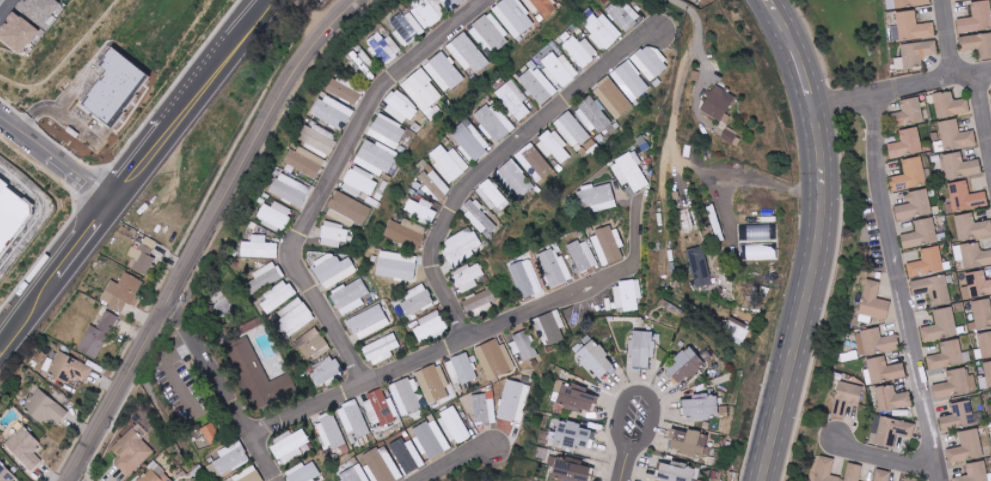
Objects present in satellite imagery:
building: (63, 0)
building: (957, 0)
road: (6, 2)
building: (906, 3)
building: (452, 4)
building: (542, 7)
road: (6, 8)
building: (38, 10)
building: (425, 14)
building: (624, 15)
building: (514, 17)
building: (977, 17)
building: (913, 27)
building: (407, 28)
building: (603, 31)
building: (17, 33)
building: (490, 33)
road: (948, 39)
building: (978, 44)
building: (384, 48)
building: (580, 51)
building: (468, 53)
building: (916, 53)
building: (651, 62)
building: (365, 64)
building: (445, 70)
building: (559, 70)
building: (629, 84)
building: (537, 85)
building: (117, 88)
road: (903, 89)
building: (347, 90)
building: (422, 90)
building: (613, 99)
building: (514, 100)
building: (718, 103)
building: (950, 105)
building: (400, 107)
road: (984, 108)
building: (912, 109)
road: (58, 111)
building: (333, 112)
building: (593, 116)
building: (493, 123)
building: (572, 130)
building: (388, 131)
building: (955, 135)
building: (731, 137)
building: (319, 139)
building: (907, 142)
building: (469, 143)
building: (554, 146)
road: (669, 147)
building: (377, 157)
road: (55, 158)
building: (305, 162)
road: (499, 162)
building: (534, 162)
building: (449, 163)
building: (960, 166)
building: (630, 172)
building: (911, 173)
road: (133, 174)
road: (339, 175)
road: (745, 175)
building: (515, 178)
building: (359, 182)
building: (435, 185)
building: (291, 190)
building: (493, 196)
building: (966, 197)
building: (914, 205)
building: (348, 210)
building: (422, 210)
building: (277, 214)
building: (12, 216)
road: (46, 216)
building: (479, 218)
building: (971, 226)
road: (203, 233)
building: (407, 233)
building: (921, 234)
building: (333, 236)
road: (820, 238)
building: (608, 246)
building: (462, 247)
building: (260, 248)
building: (972, 255)
building: (143, 256)
building: (583, 256)
building: (927, 262)
building: (699, 266)
building: (400, 267)
building: (332, 268)
building: (554, 269)
building: (269, 274)
building: (468, 278)
building: (976, 284)
road: (902, 288)
building: (933, 289)
building: (123, 292)
building: (627, 295)
building: (350, 296)
building: (277, 297)
building: (418, 300)
building: (480, 303)
building: (873, 303)
building: (982, 313)
building: (295, 317)
building: (368, 322)
building: (941, 325)
building: (430, 326)
building: (552, 327)
building: (738, 330)
building: (98, 335)
road: (472, 341)
building: (875, 342)
building: (524, 345)
building: (984, 345)
building: (381, 350)
building: (946, 355)
building: (596, 359)
building: (685, 365)
building: (69, 369)
building: (461, 369)
building: (883, 370)
building: (988, 372)
road: (172, 373)
building: (263, 374)
building: (327, 374)
building: (433, 380)
building: (956, 383)
road: (221, 388)
road: (642, 392)
building: (407, 396)
building: (576, 397)
building: (846, 398)
building: (892, 398)
building: (514, 400)
building: (701, 406)
building: (45, 408)
building: (484, 408)
building: (381, 409)
building: (962, 416)
building: (354, 421)
building: (454, 425)
building: (331, 431)
building: (893, 431)
building: (212, 432)
building: (573, 434)
building: (431, 439)
building: (690, 442)
building: (290, 445)
building: (966, 447)
building: (24, 448)
building: (132, 450)
building: (407, 455)
building: (232, 457)
road: (470, 464)
road: (625, 464)
road: (893, 465)
building: (373, 468)
building: (571, 469)
building: (826, 470)
building: (305, 472)
building: (675, 472)
building: (854, 472)
building: (975, 472)
building: (6, 474)
building: (155, 474)
building: (248, 475)
building: (882, 475)
building: (911, 479)
road: (71, 480)

